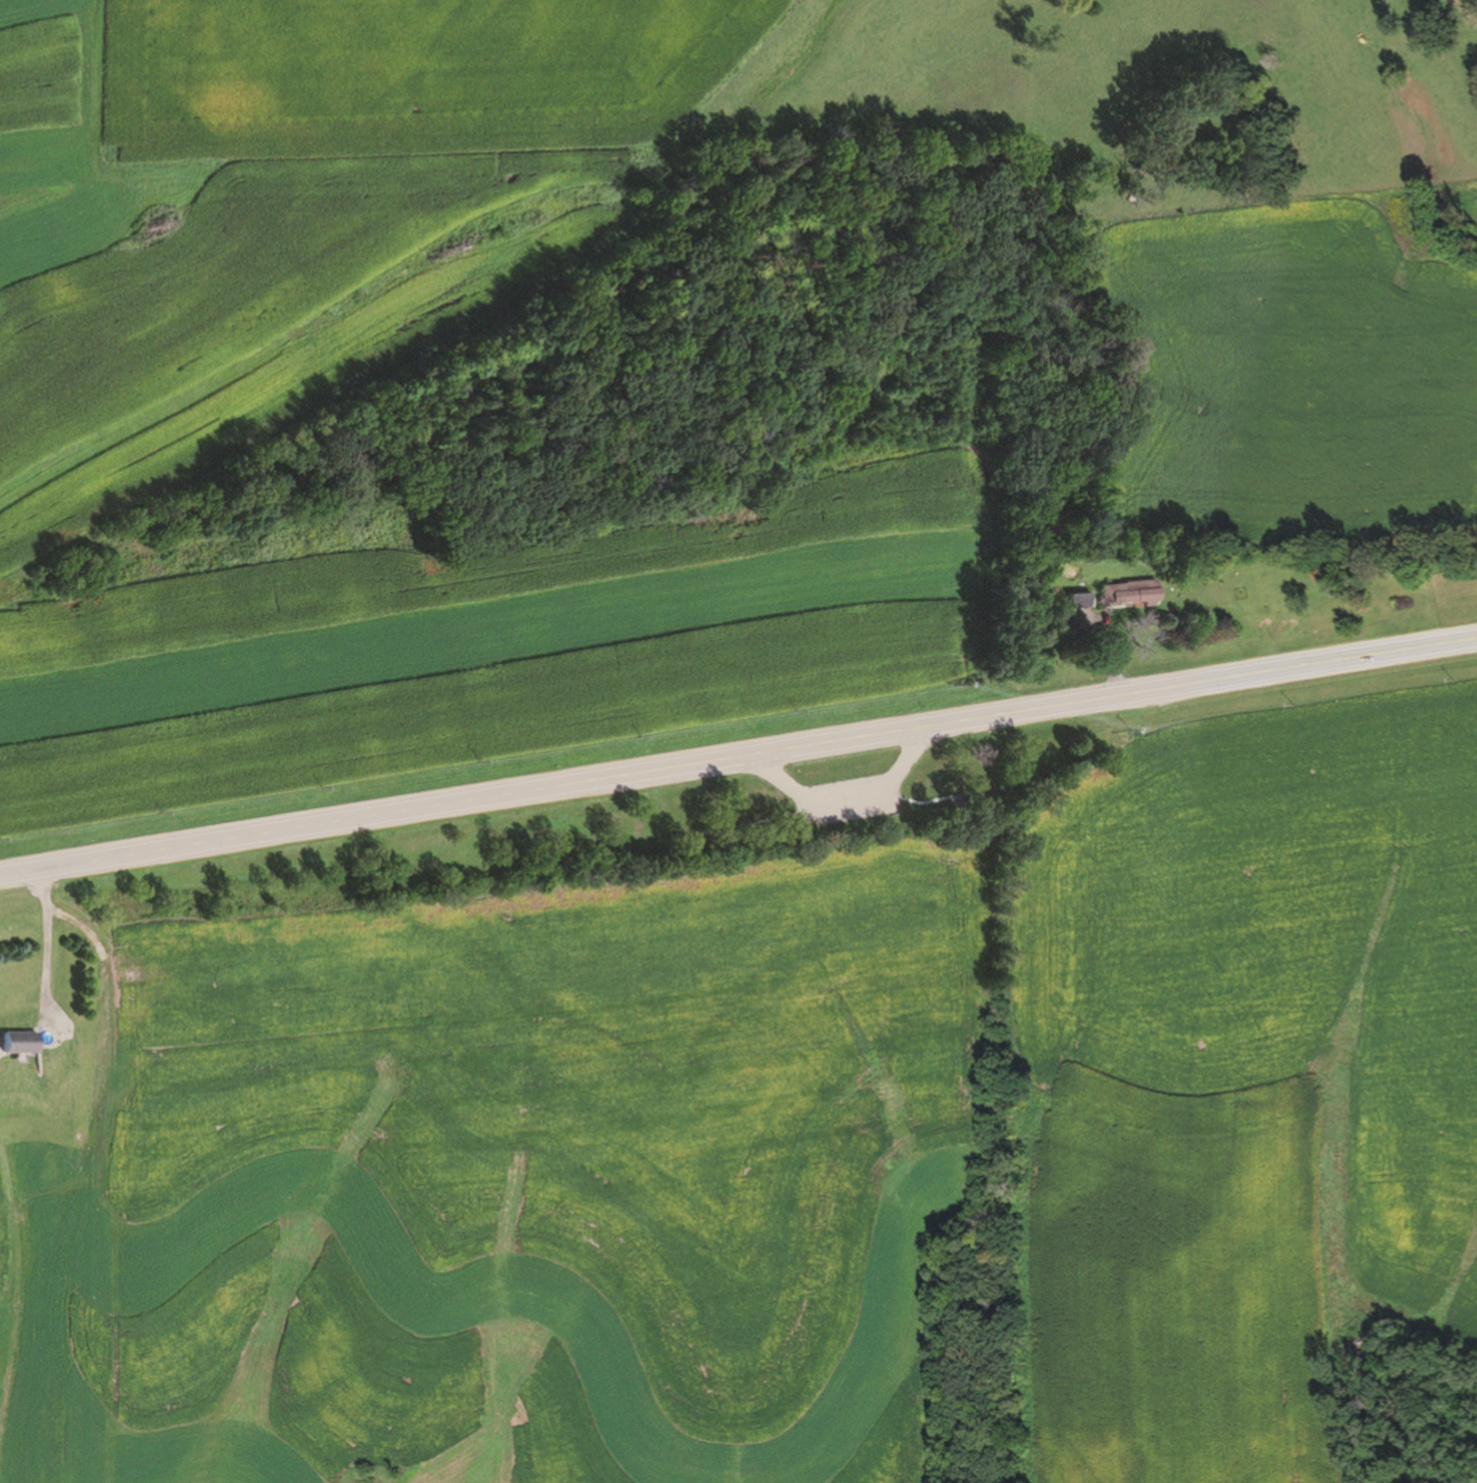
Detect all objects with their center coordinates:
road: (1467, 9)
building: (1131, 595)
building: (1080, 603)
road: (738, 758)
road: (845, 788)
building: (963, 799)
parking lot: (847, 805)
building: (22, 1043)

